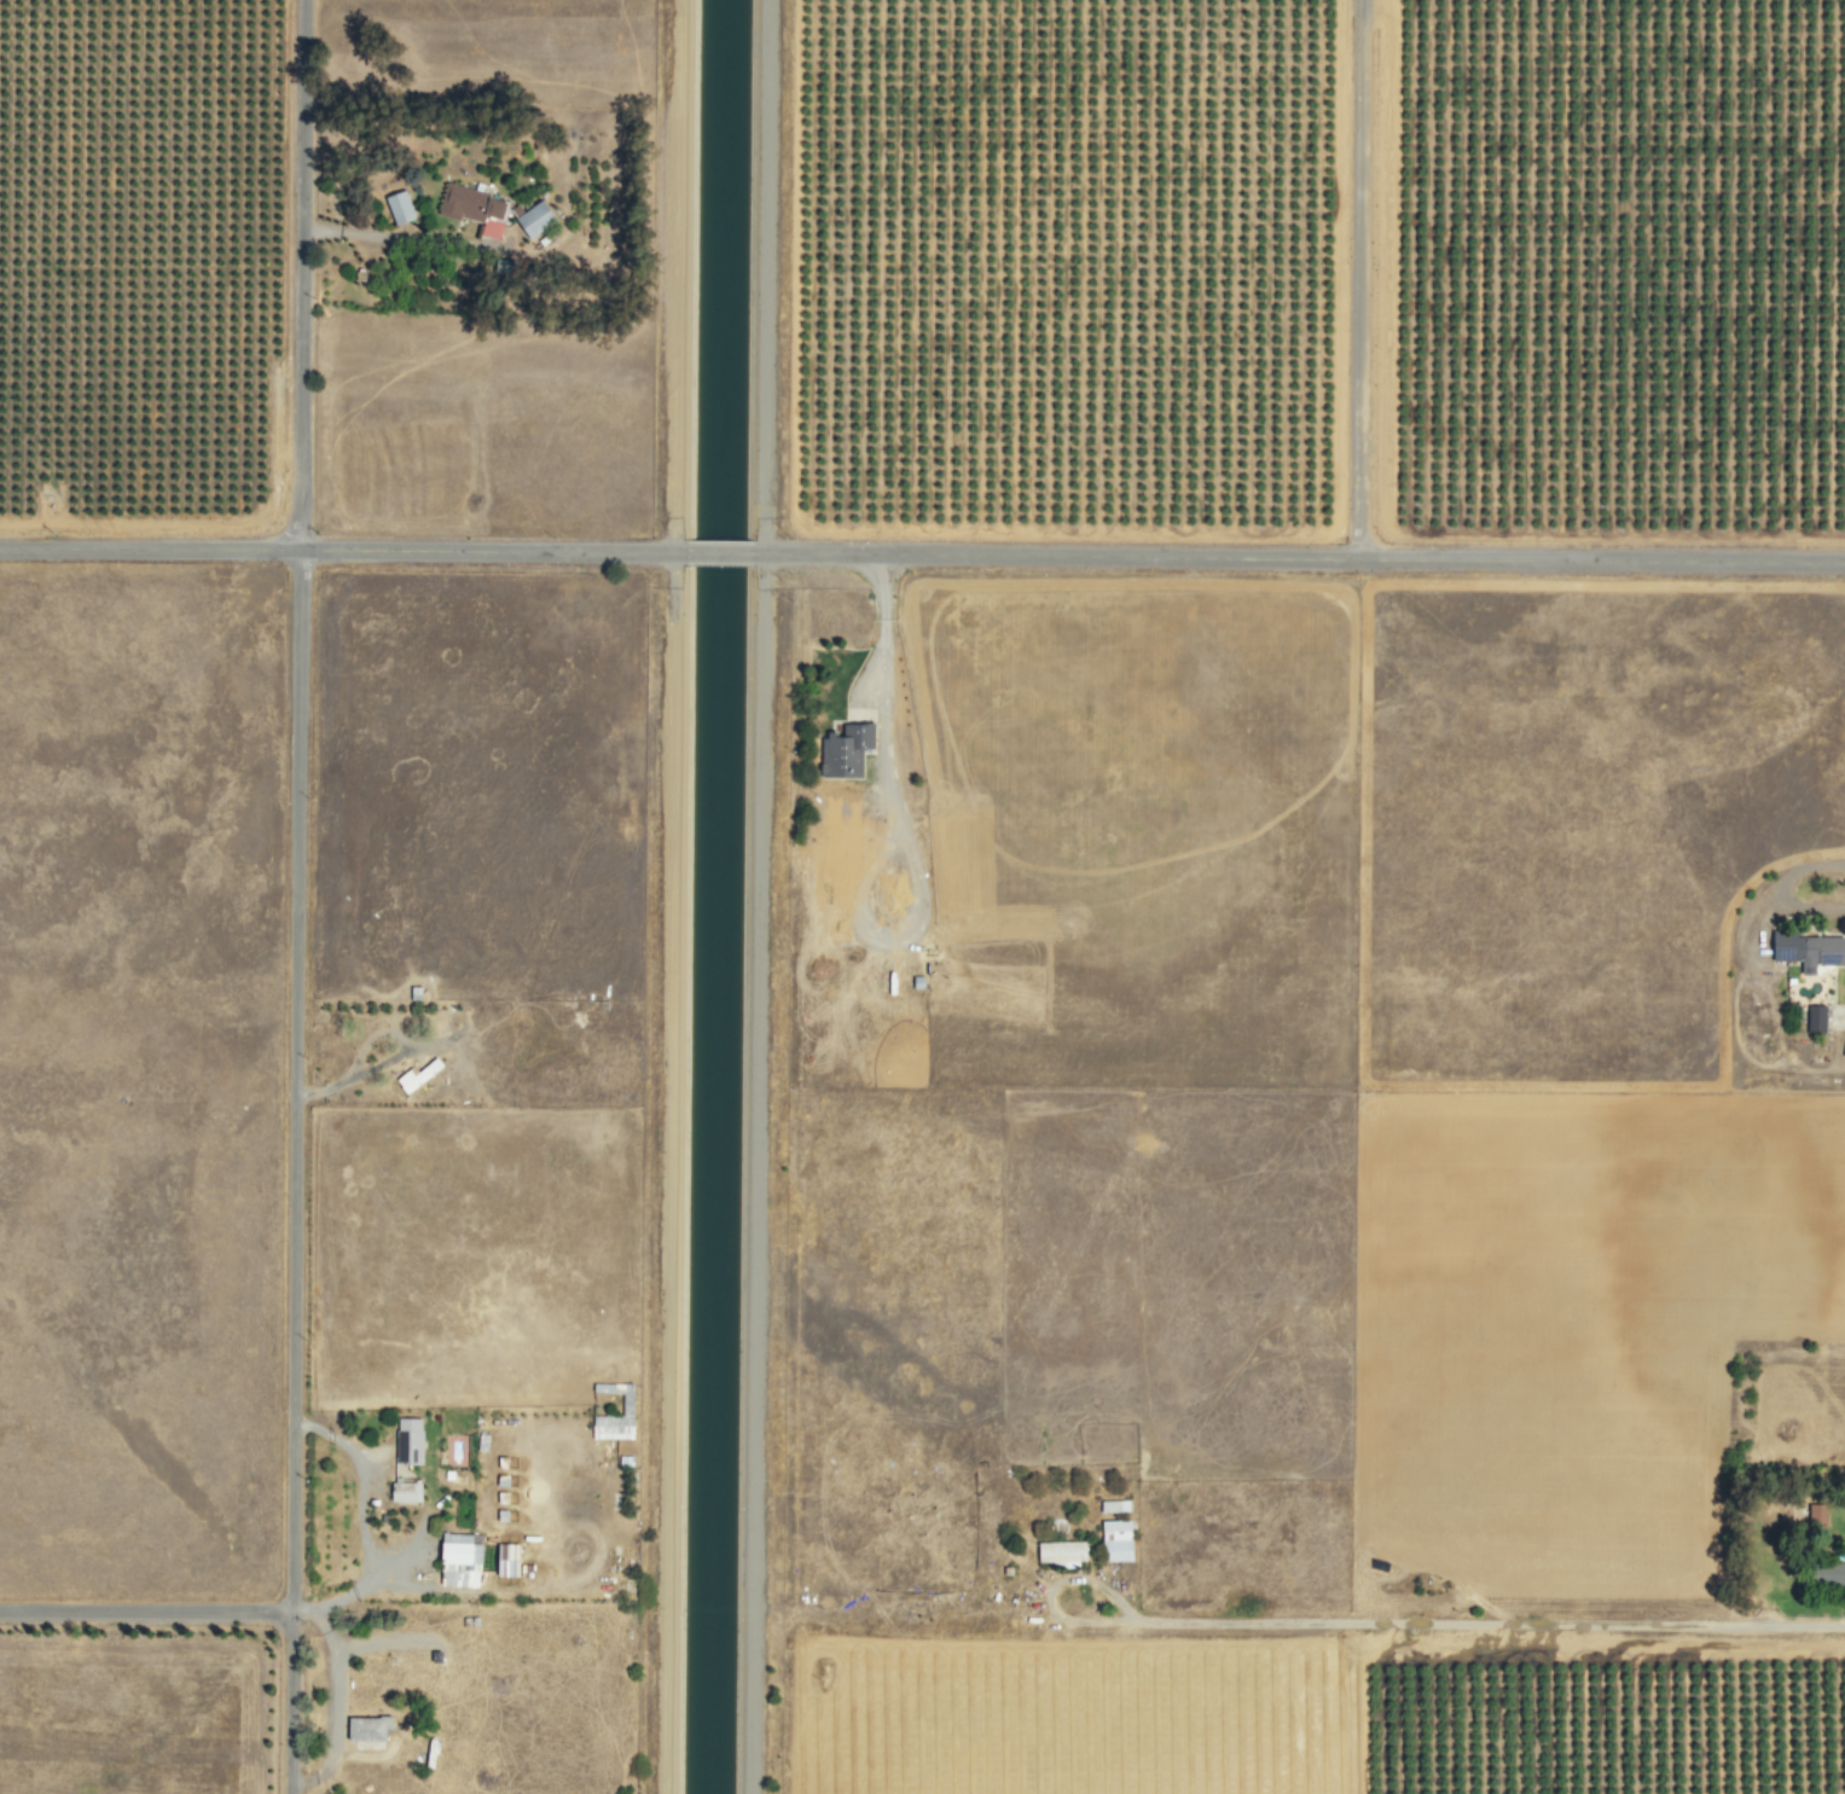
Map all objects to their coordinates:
building: (395, 208)
building: (470, 208)
building: (529, 219)
road: (673, 274)
road: (765, 275)
road: (1358, 279)
road: (341, 545)
road: (715, 551)
road: (1296, 557)
building: (842, 748)
road: (297, 805)
building: (1804, 950)
building: (1814, 1017)
building: (413, 1075)
road: (667, 1172)
road: (754, 1172)
building: (623, 1404)
building: (406, 1440)
building: (401, 1492)
building: (1113, 1505)
building: (1815, 1514)
building: (1113, 1540)
building: (457, 1551)
building: (1058, 1552)
building: (504, 1561)
building: (1826, 1573)
road: (145, 1608)
road: (1319, 1631)
road: (289, 1702)
building: (365, 1731)

